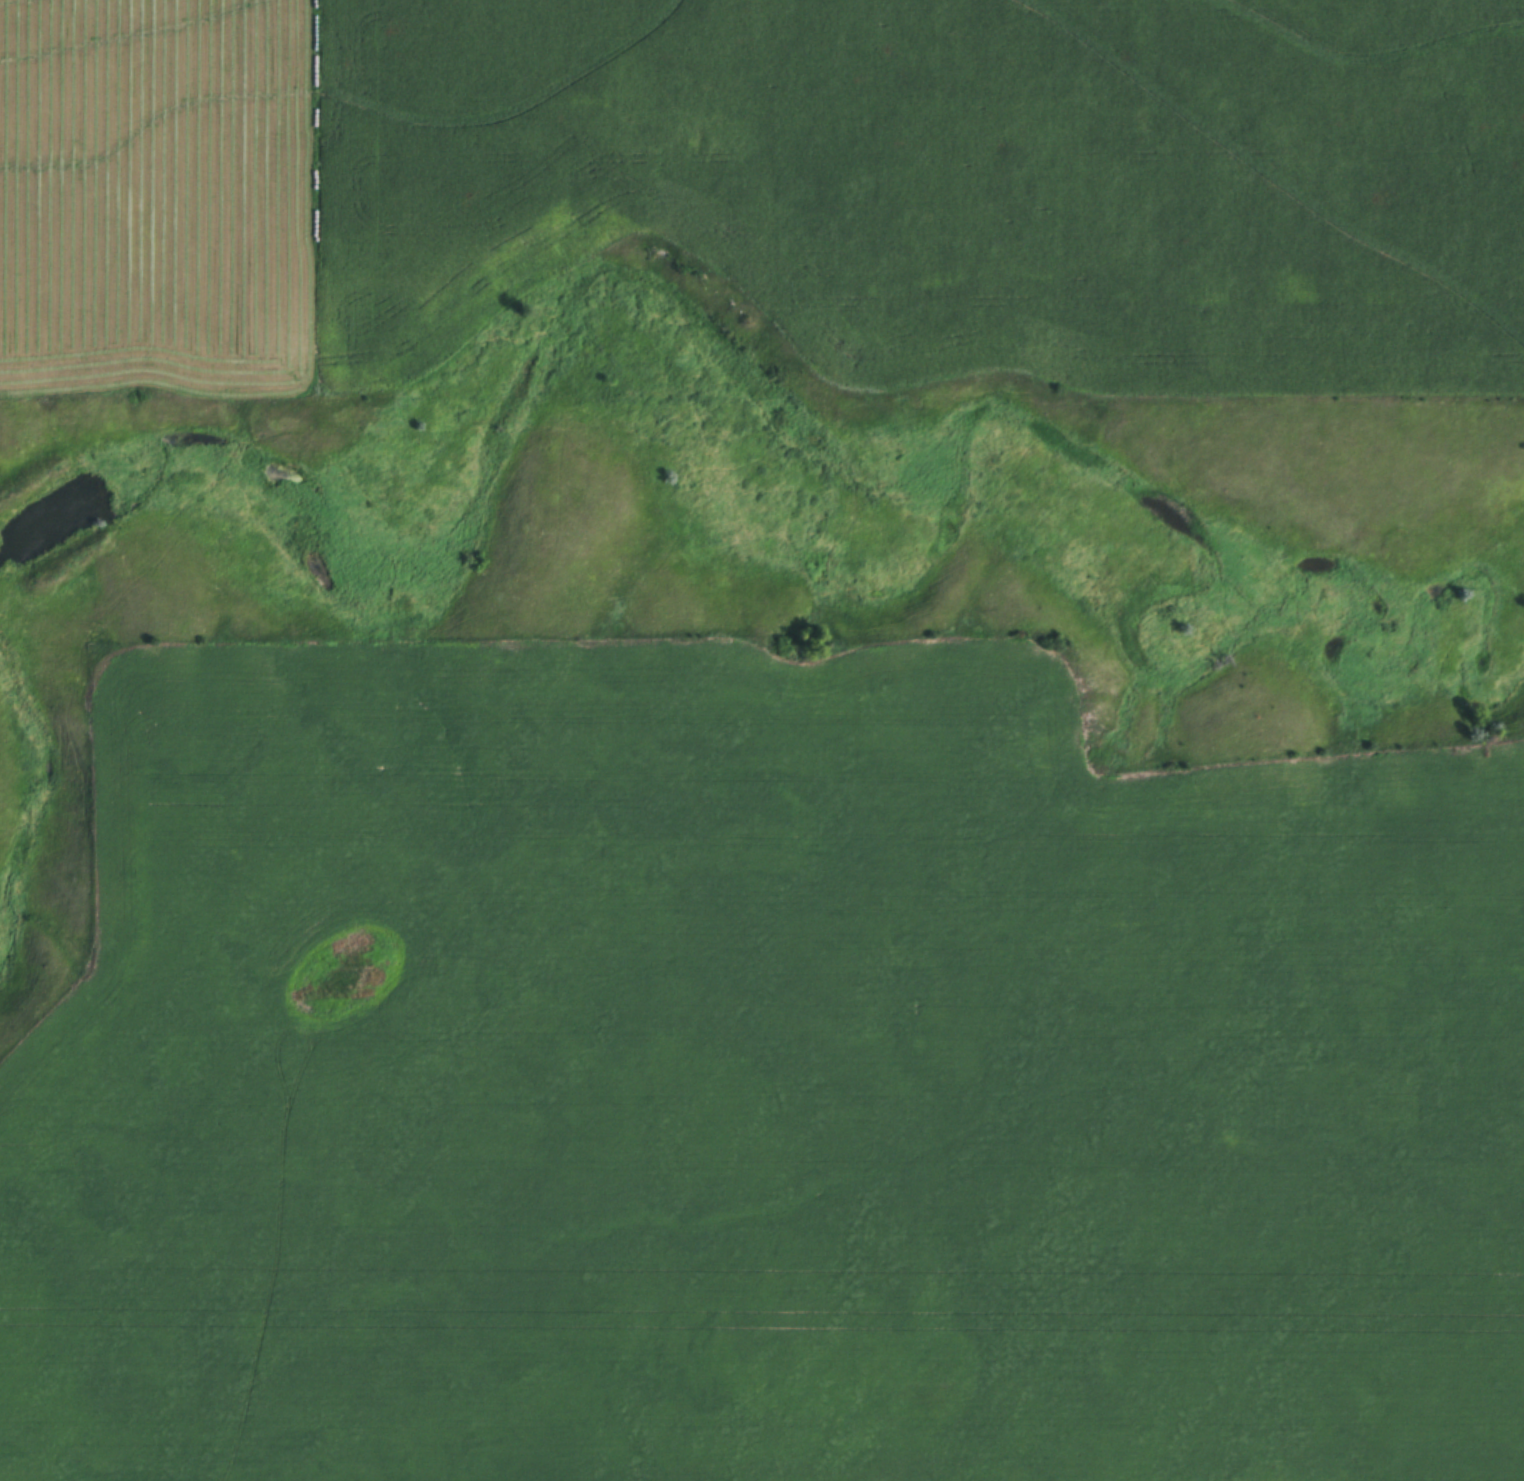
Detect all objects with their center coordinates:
river: (57, 508)
river: (7, 524)
river: (10, 541)

